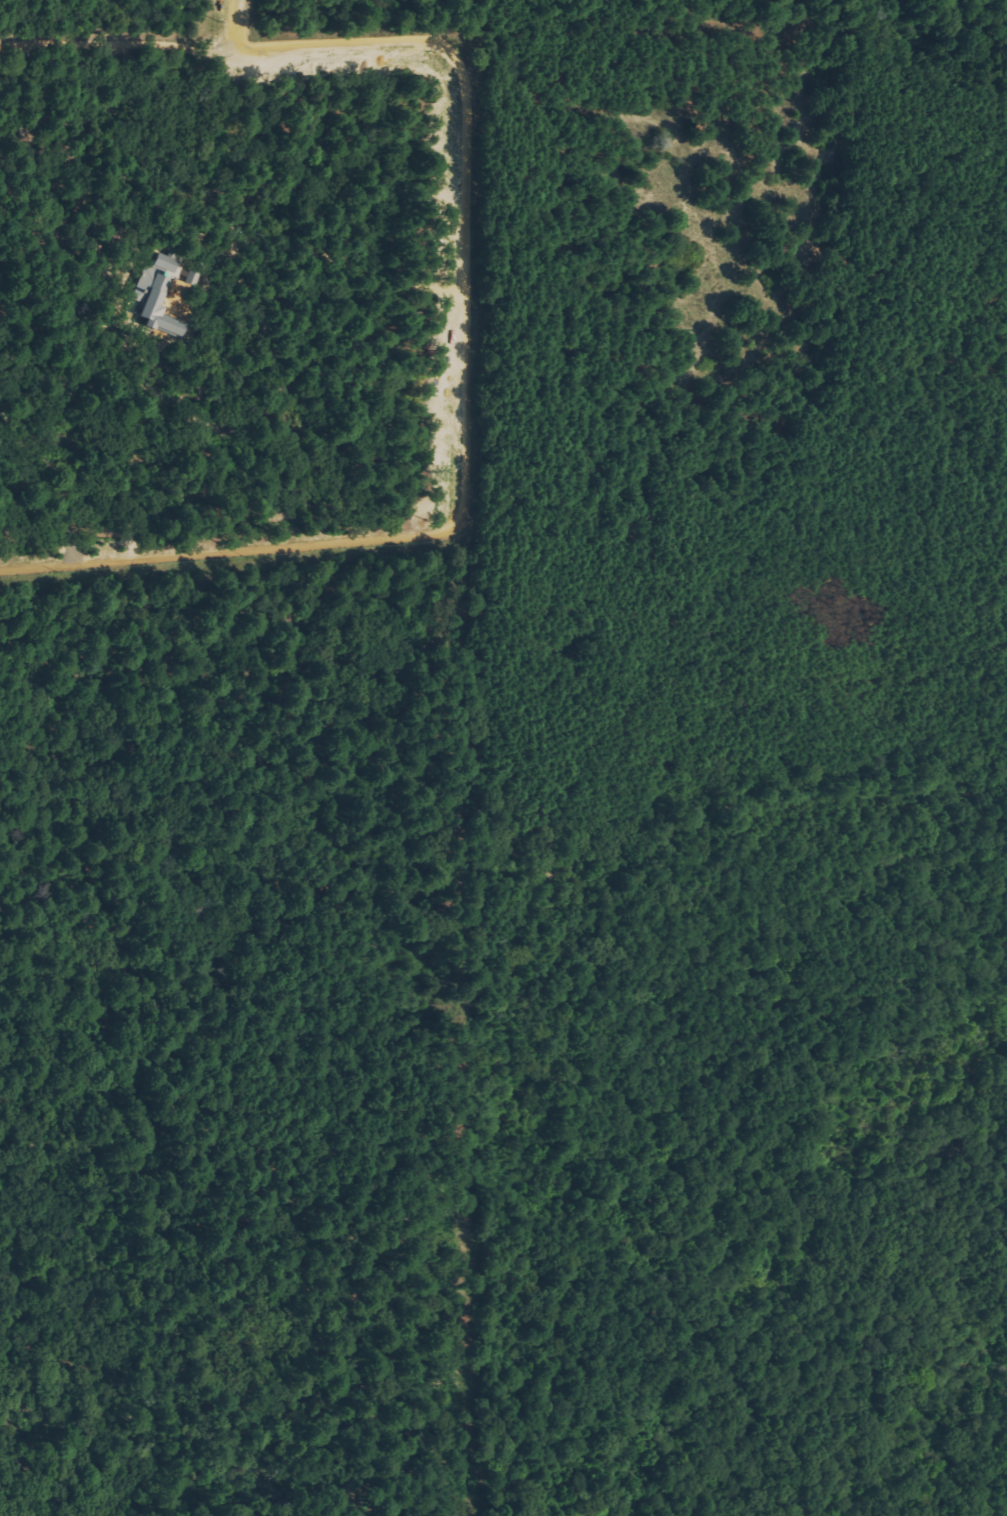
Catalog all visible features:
road: (472, 391)

